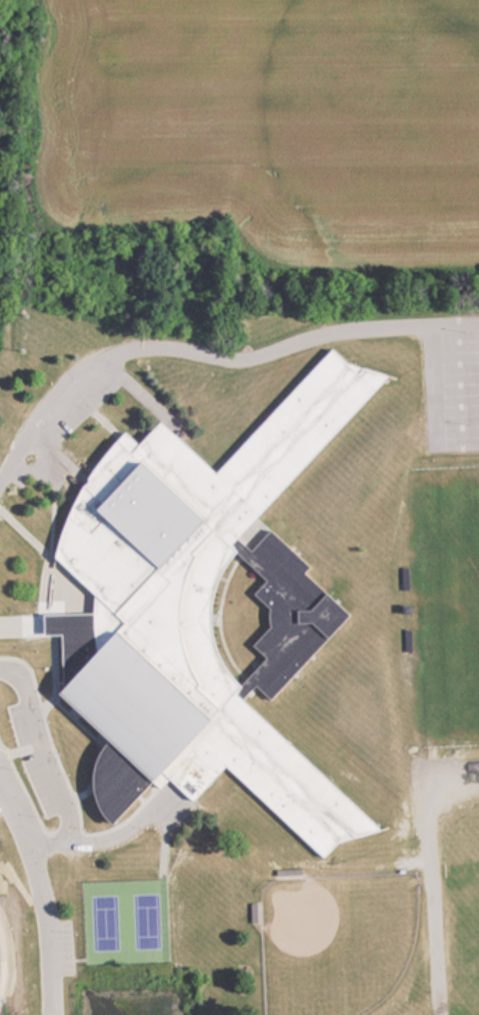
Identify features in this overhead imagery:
road: (190, 354)
park: (454, 601)
building: (199, 612)
road: (41, 899)
park: (335, 942)

